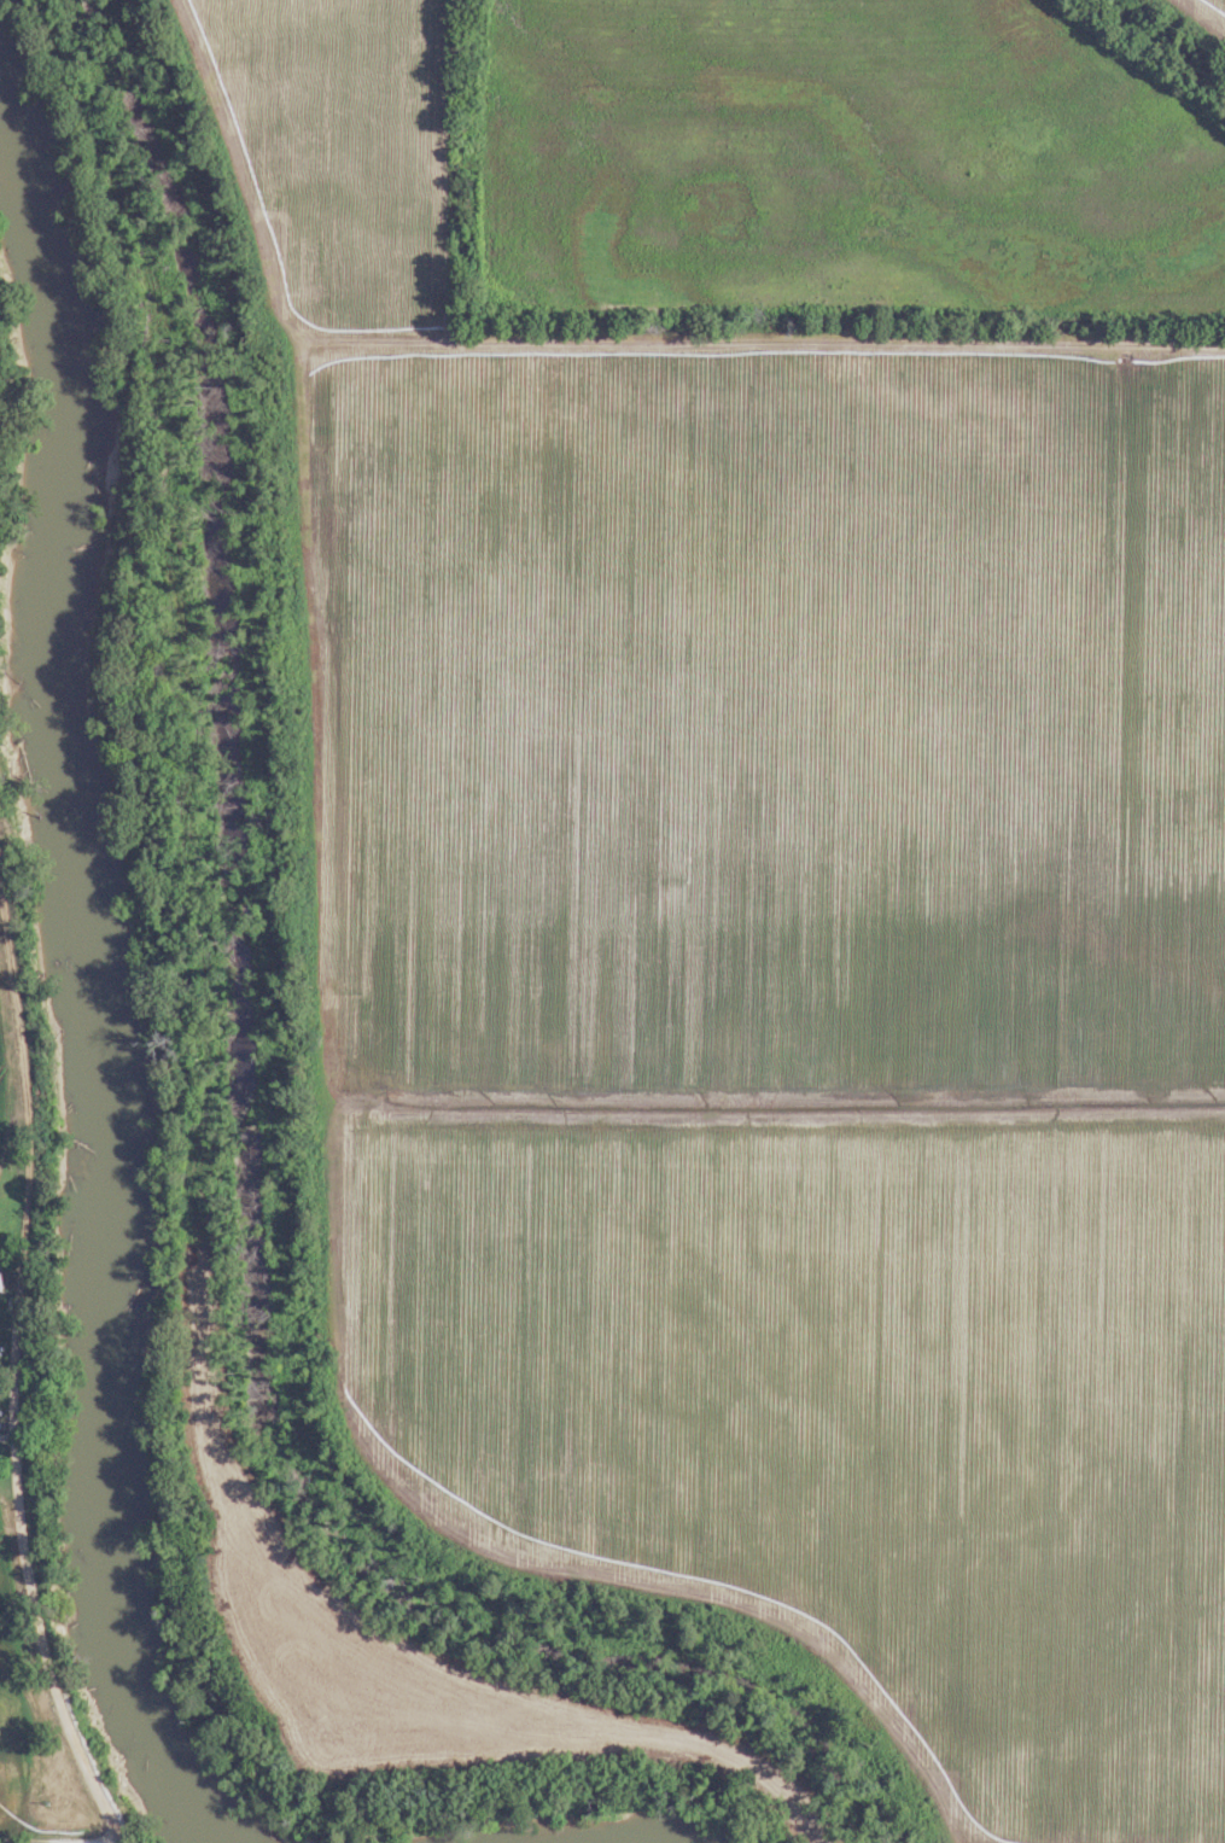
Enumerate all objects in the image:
road: (775, 346)
river: (88, 980)
road: (23, 1023)
road: (21, 1501)
building: (710, 1710)
road: (60, 1839)

